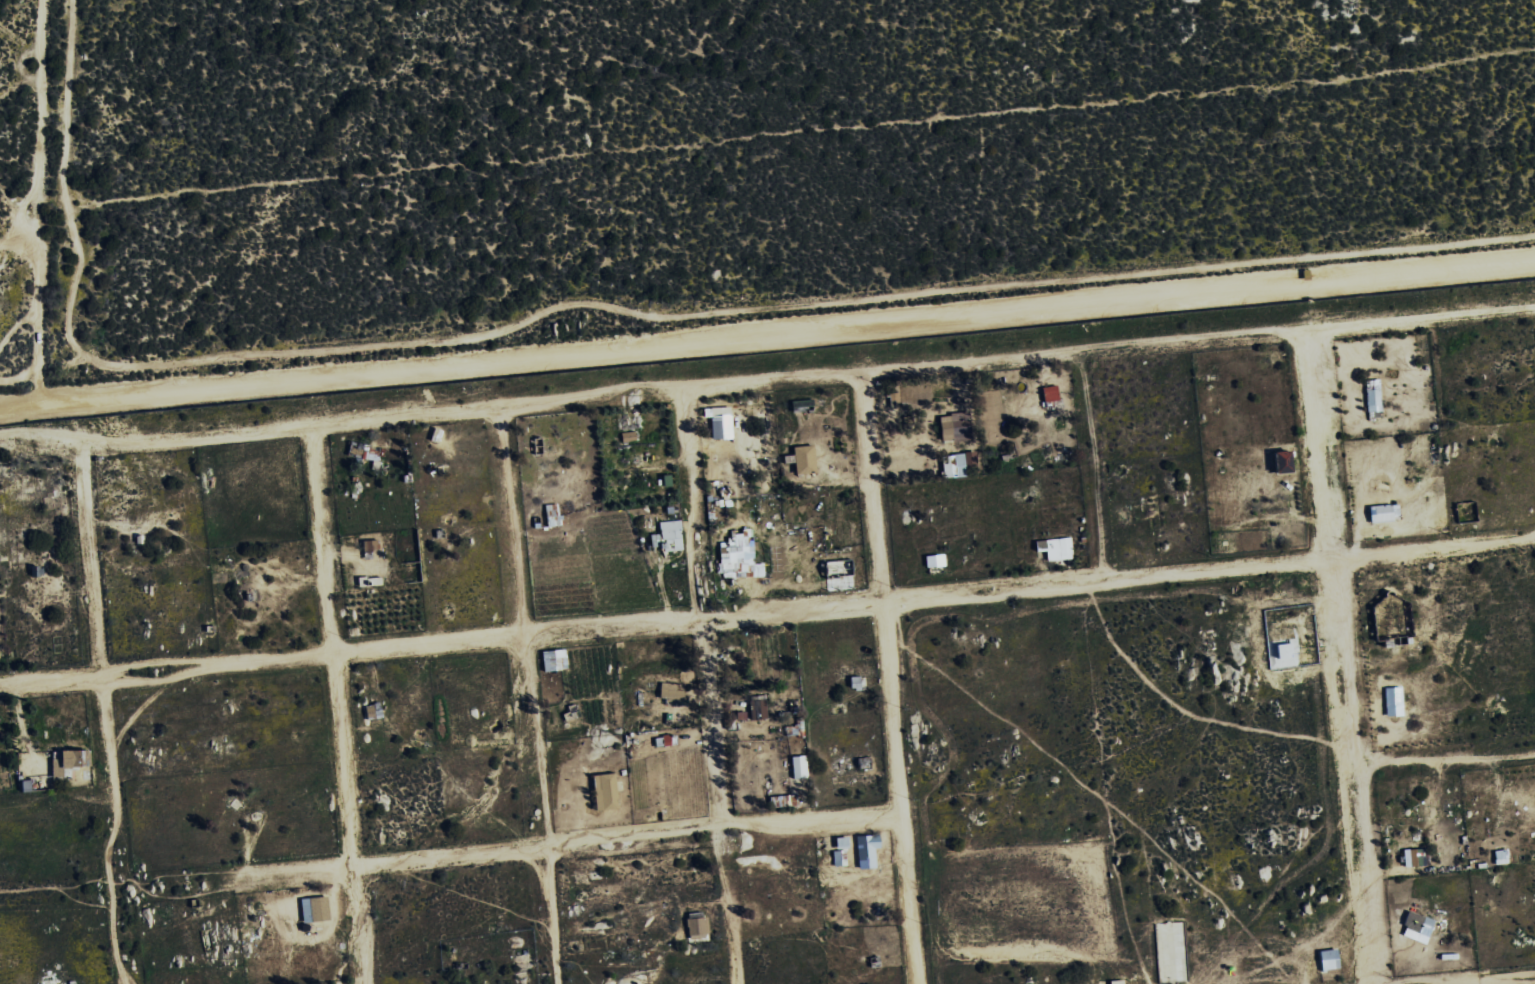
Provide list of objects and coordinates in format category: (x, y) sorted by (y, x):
road: (1420, 320)
road: (767, 331)
road: (1081, 349)
building: (1372, 396)
building: (1047, 398)
road: (428, 414)
building: (718, 423)
building: (950, 427)
building: (801, 459)
building: (1278, 462)
building: (955, 464)
road: (1088, 465)
building: (1378, 514)
building: (1118, 516)
building: (665, 537)
building: (1053, 549)
building: (737, 556)
road: (767, 613)
road: (1337, 657)
road: (889, 677)
road: (703, 687)
building: (665, 691)
road: (531, 695)
building: (1391, 702)
road: (339, 705)
building: (756, 709)
road: (105, 713)
road: (1441, 758)
building: (67, 760)
building: (797, 767)
building: (608, 791)
road: (567, 846)
building: (864, 851)
building: (1414, 857)
road: (116, 883)
building: (317, 909)
building: (1412, 922)
building: (699, 925)
building: (1326, 960)
road: (1485, 979)
building: (1115, 982)

